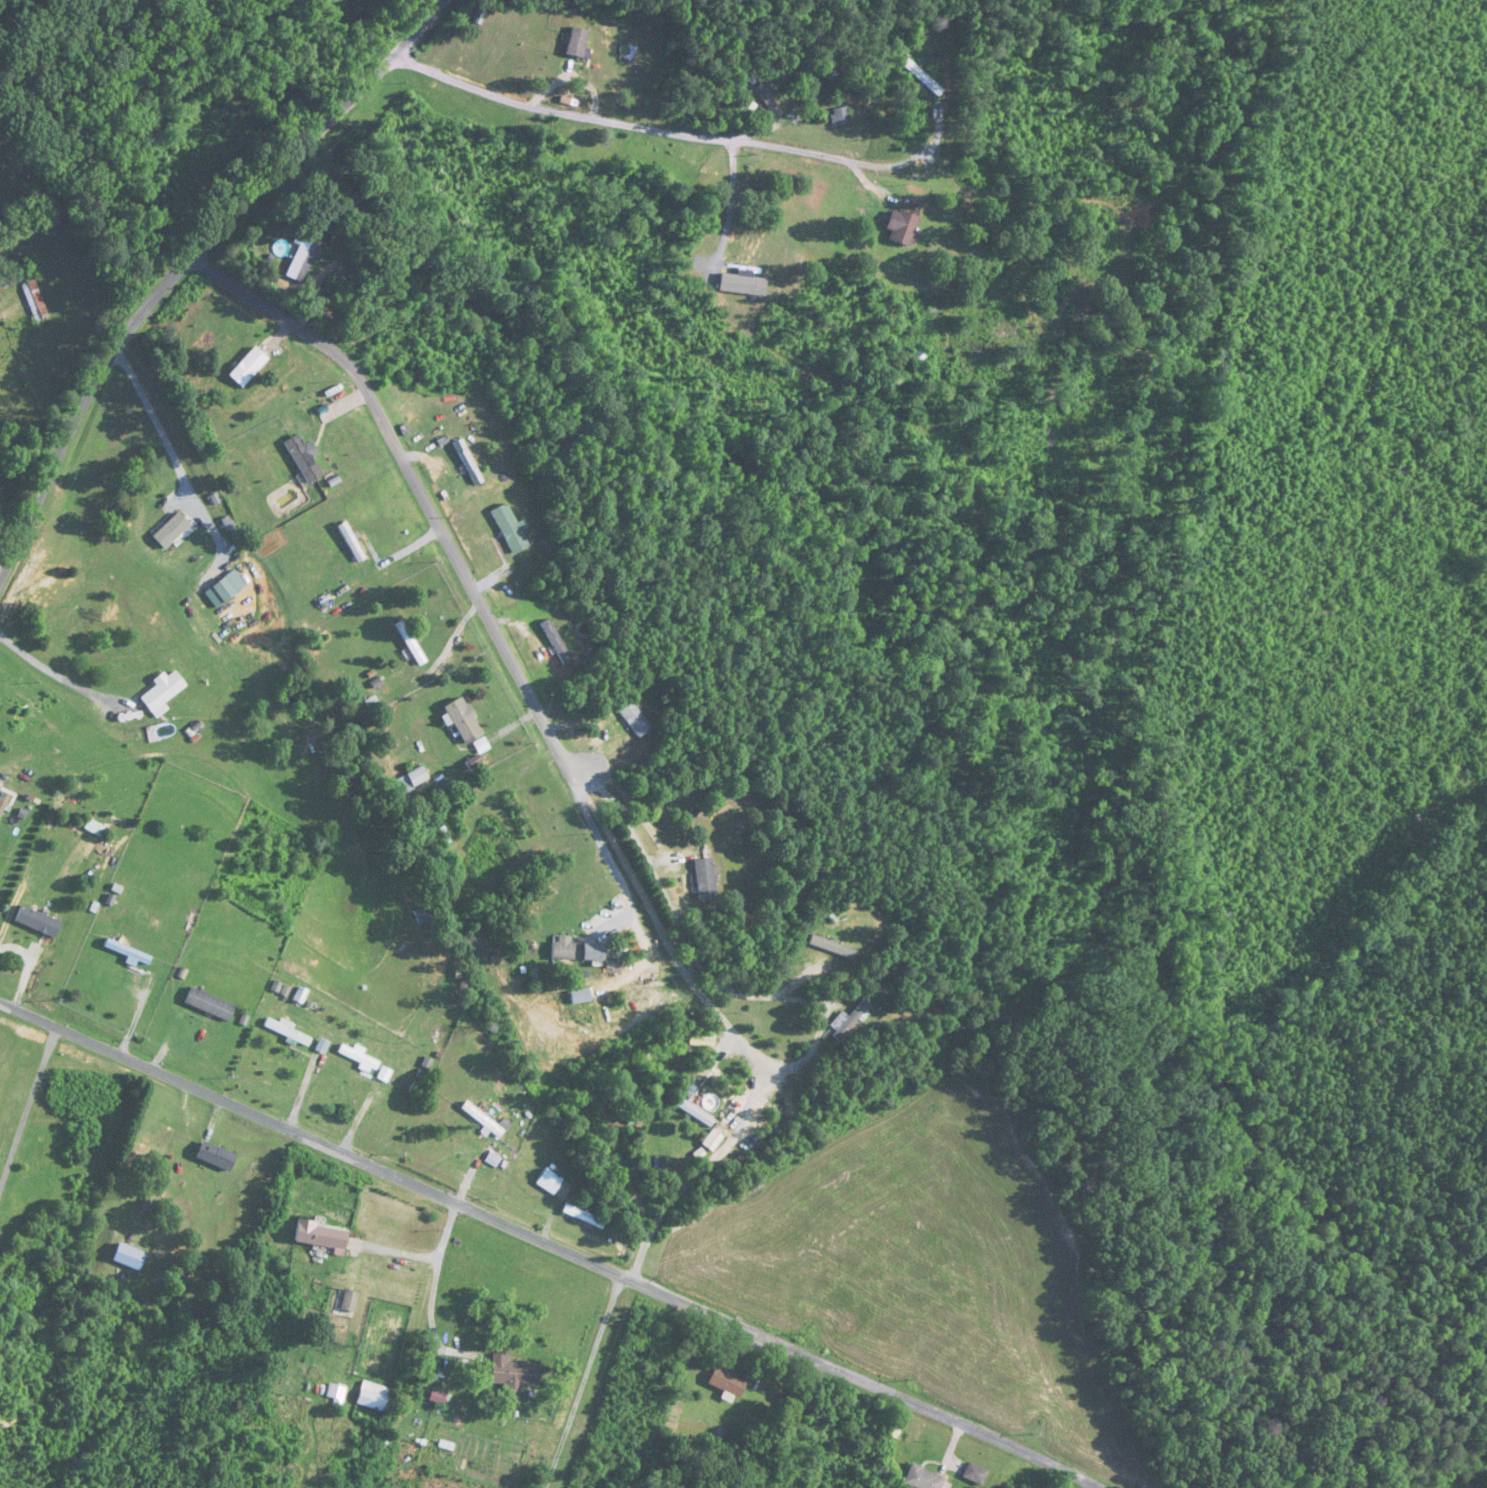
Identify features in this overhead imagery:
building: (575, 43)
building: (764, 93)
building: (838, 116)
road: (637, 125)
building: (899, 227)
building: (297, 258)
road: (184, 264)
building: (7, 283)
building: (33, 301)
building: (920, 357)
building: (245, 367)
road: (160, 429)
building: (303, 459)
building: (465, 462)
road: (430, 508)
building: (507, 529)
building: (164, 530)
building: (221, 590)
building: (554, 642)
building: (408, 643)
road: (63, 680)
building: (161, 690)
building: (460, 720)
building: (632, 720)
building: (411, 781)
road: (605, 784)
building: (4, 804)
building: (703, 879)
building: (563, 950)
building: (125, 952)
road: (671, 958)
building: (207, 1005)
road: (679, 1008)
building: (845, 1023)
building: (286, 1032)
building: (356, 1058)
building: (377, 1105)
road: (29, 1109)
building: (692, 1114)
building: (710, 1141)
building: (213, 1157)
road: (694, 1175)
building: (548, 1183)
building: (577, 1215)
building: (317, 1237)
road: (557, 1243)
road: (437, 1274)
building: (348, 1303)
building: (510, 1375)
road: (583, 1380)
building: (724, 1382)
building: (335, 1394)
building: (372, 1397)
building: (893, 1429)
building: (973, 1474)
building: (922, 1479)

